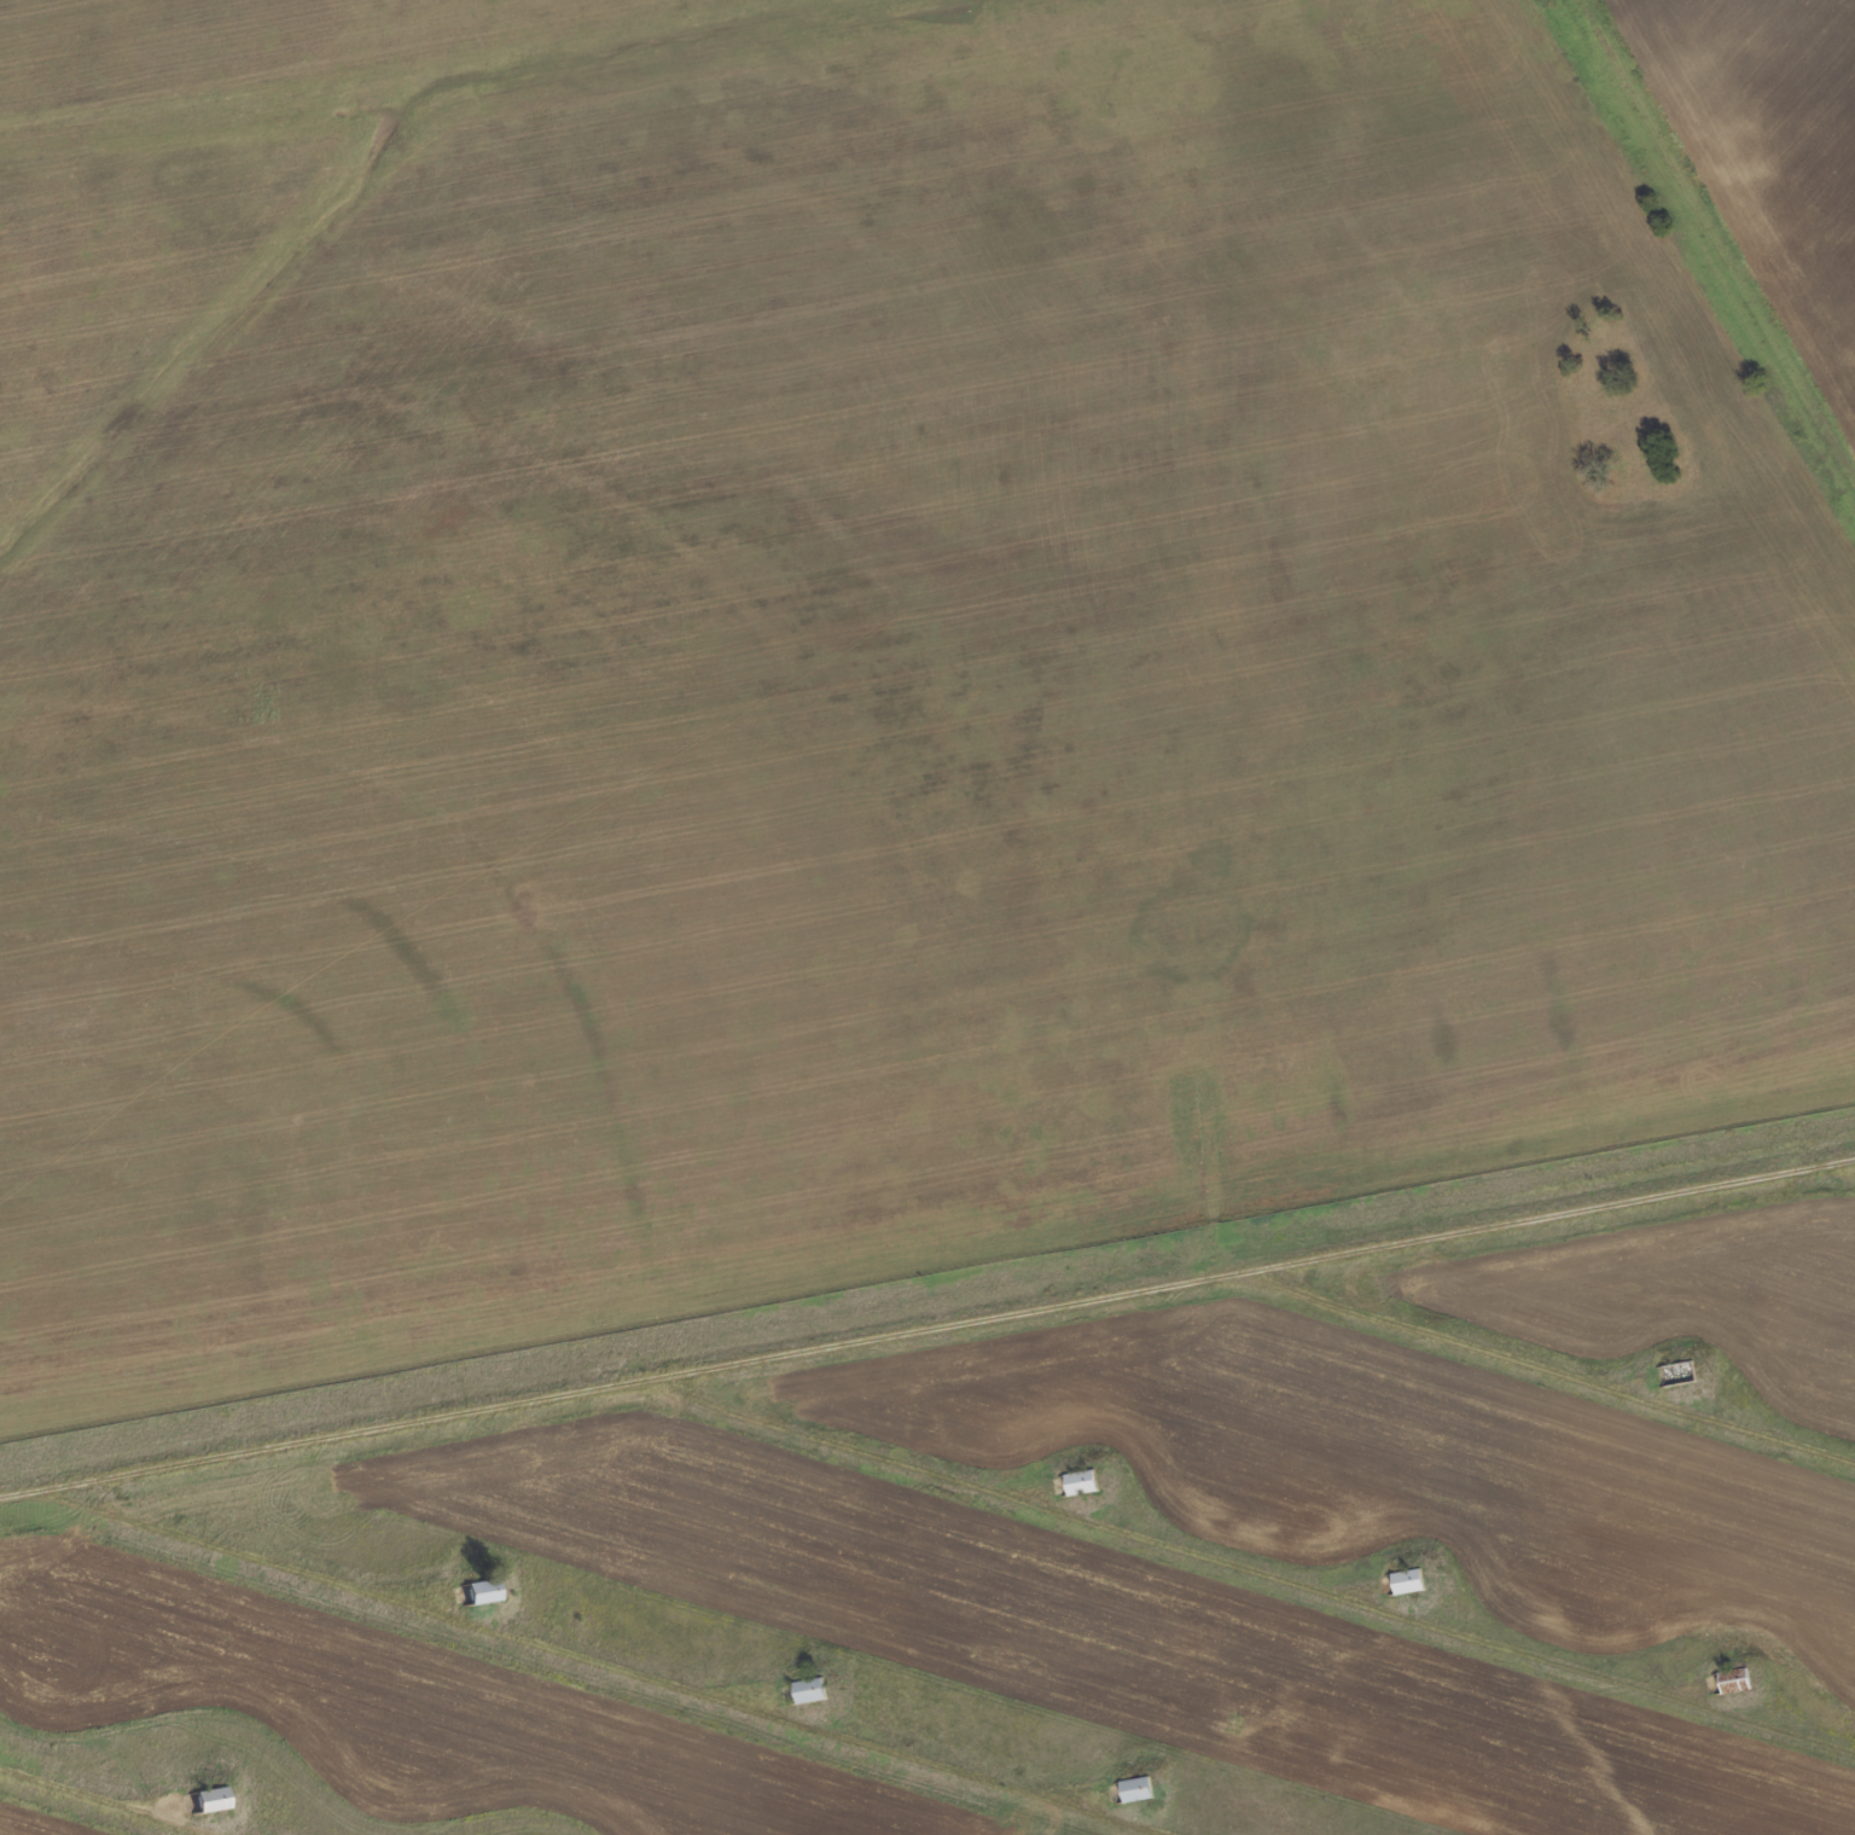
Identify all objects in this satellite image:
road: (1837, 1168)
road: (1720, 1181)
road: (792, 1352)
road: (1543, 1365)
building: (1679, 1372)
building: (1080, 1481)
road: (1249, 1566)
building: (1407, 1580)
building: (483, 1590)
road: (603, 1660)
building: (1733, 1679)
building: (809, 1689)
building: (1135, 1788)
building: (210, 1799)
road: (100, 1804)

